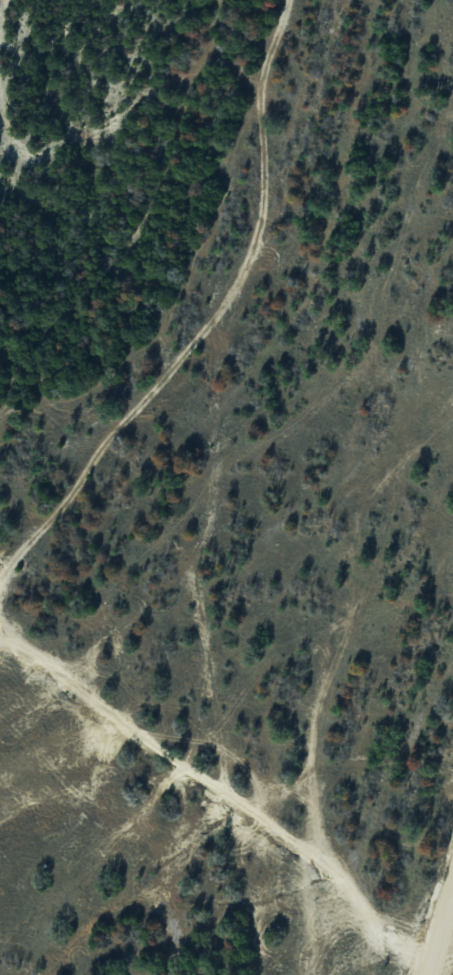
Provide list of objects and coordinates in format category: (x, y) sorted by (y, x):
road: (432, 911)

